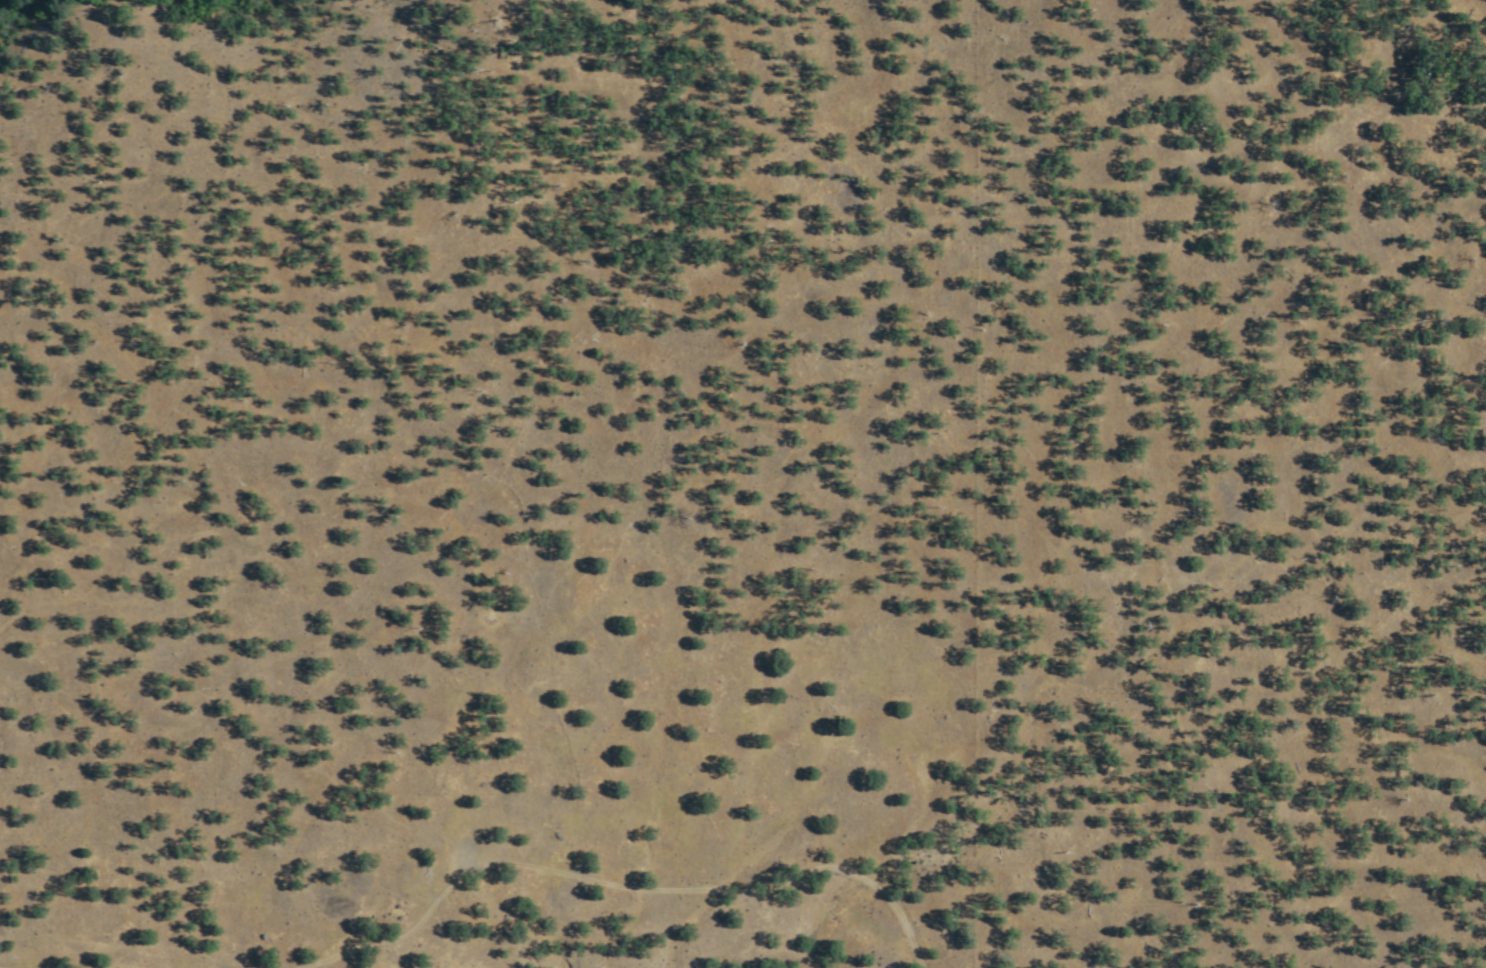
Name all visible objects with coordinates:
road: (617, 885)
road: (2, 967)

